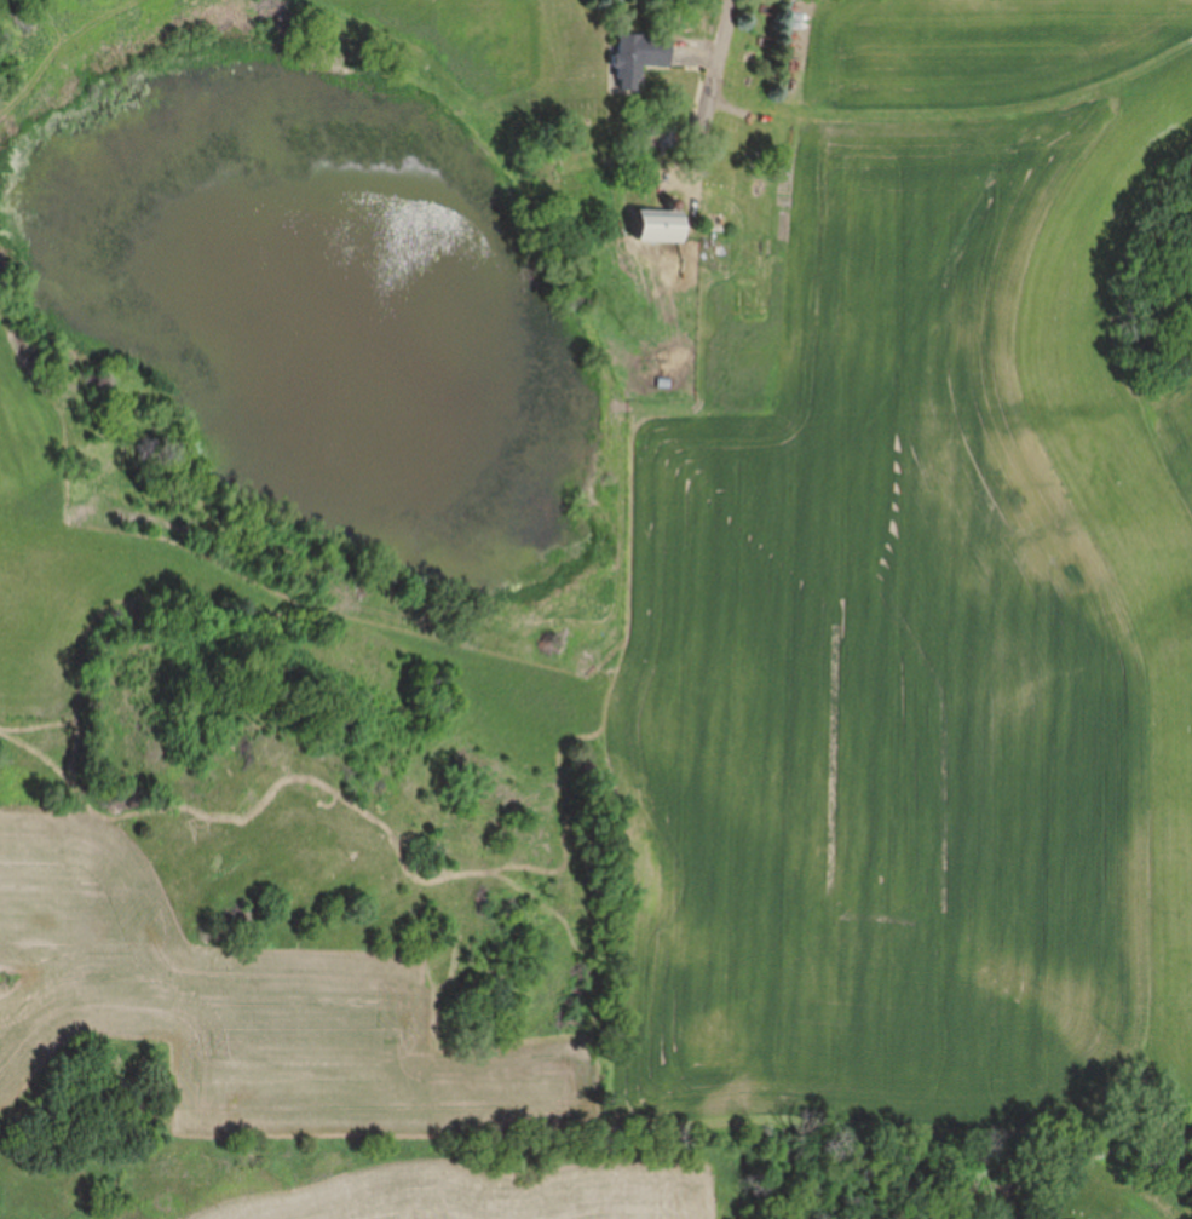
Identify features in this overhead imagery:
building: (639, 56)
road: (710, 87)
building: (657, 225)

